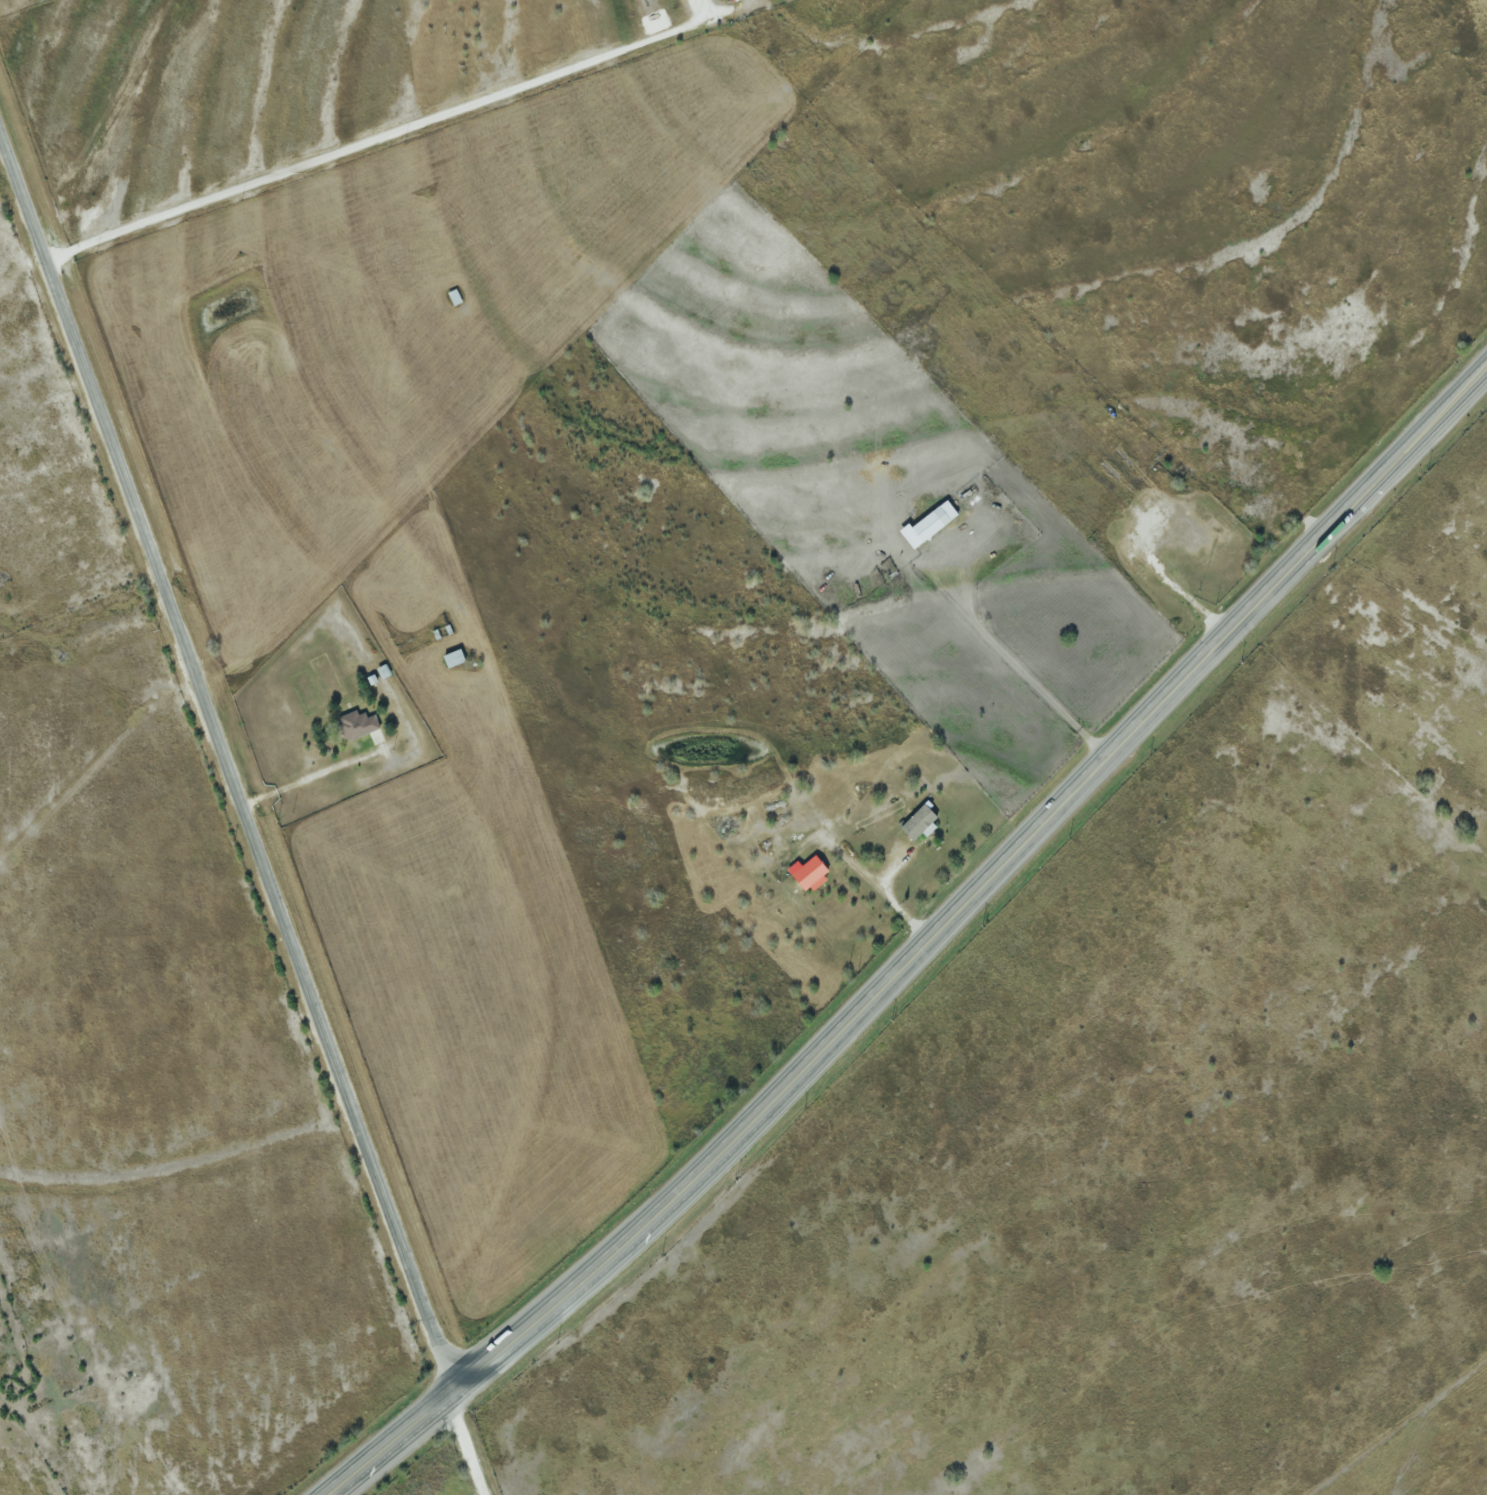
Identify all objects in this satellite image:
building: (452, 298)
building: (923, 527)
building: (450, 658)
building: (355, 725)
road: (248, 802)
road: (925, 951)

